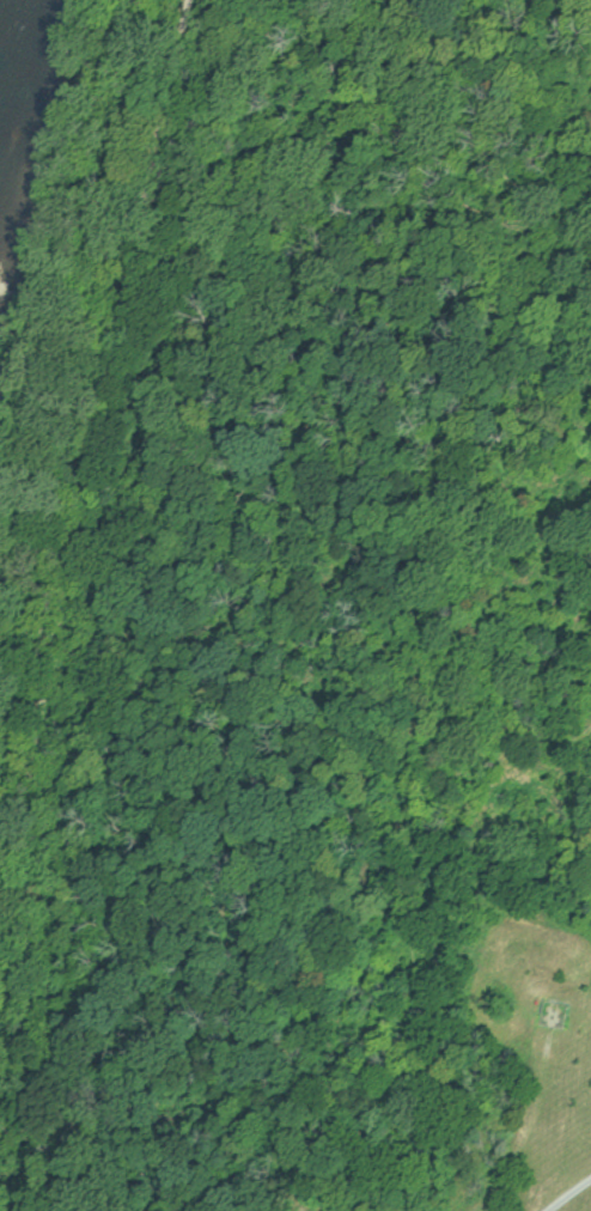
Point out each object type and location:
road: (90, 452)
road: (565, 1191)

